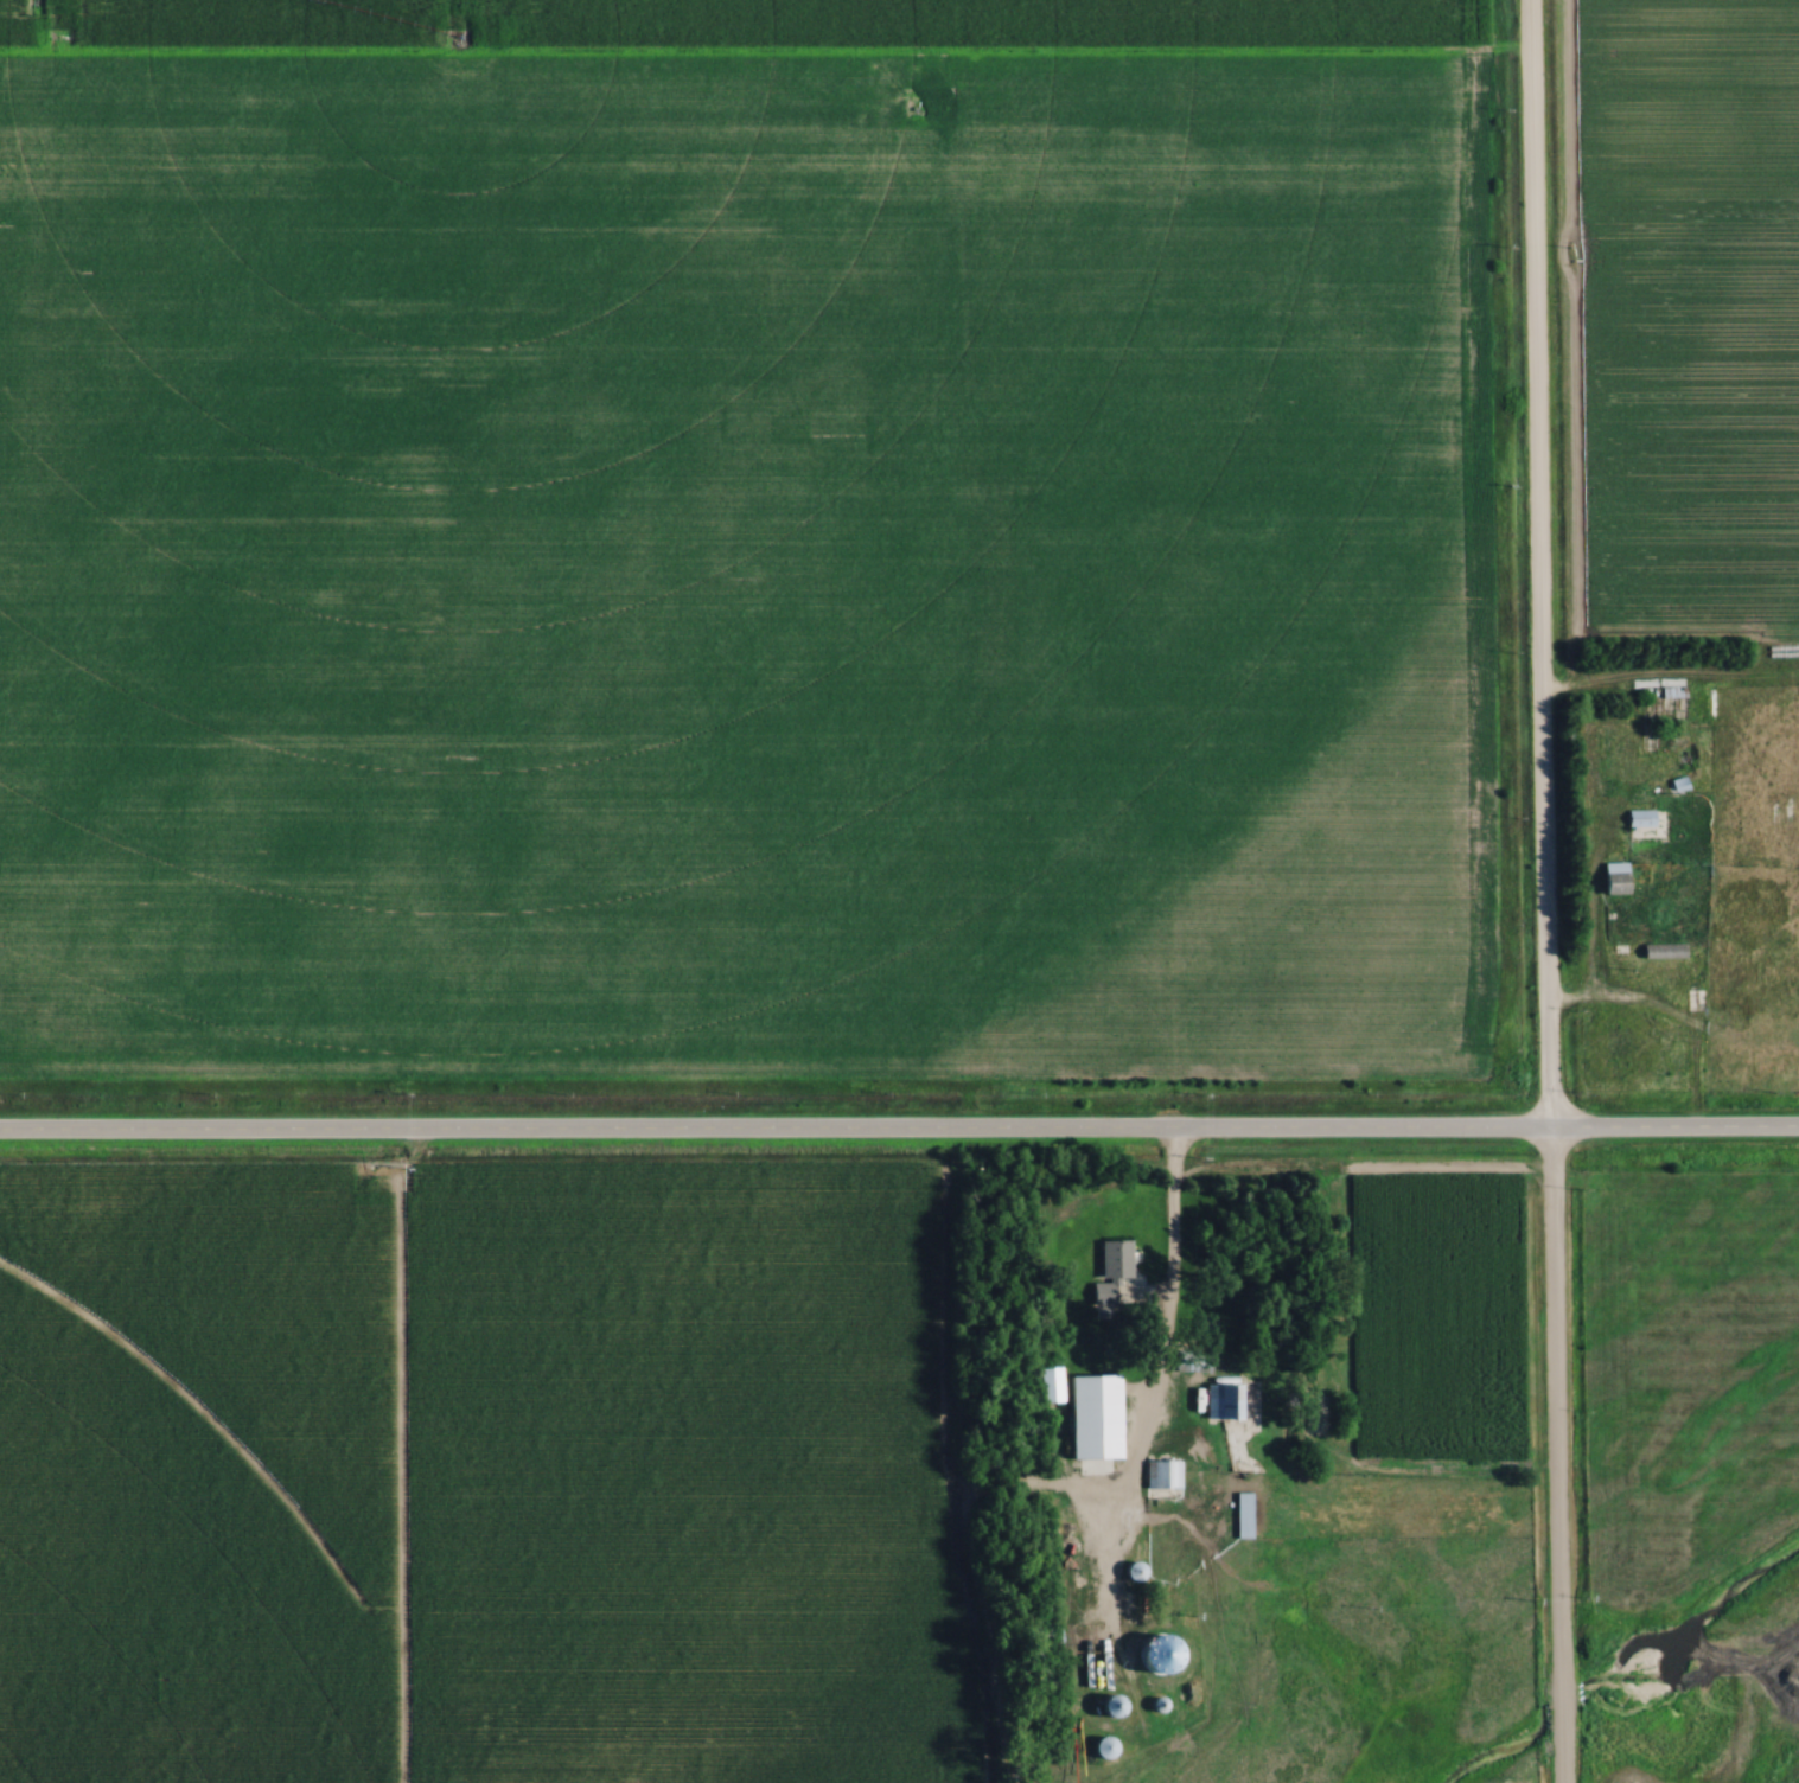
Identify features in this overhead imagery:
building: (1637, 817)
building: (1609, 876)
road: (1542, 891)
building: (1660, 950)
road: (1670, 1016)
road: (899, 1135)
road: (1169, 1219)
building: (1105, 1268)
building: (1197, 1362)
building: (1044, 1383)
building: (1217, 1400)
building: (1085, 1415)
building: (1159, 1472)
building: (1238, 1514)
building: (1127, 1571)
building: (1105, 1704)
building: (1097, 1746)

